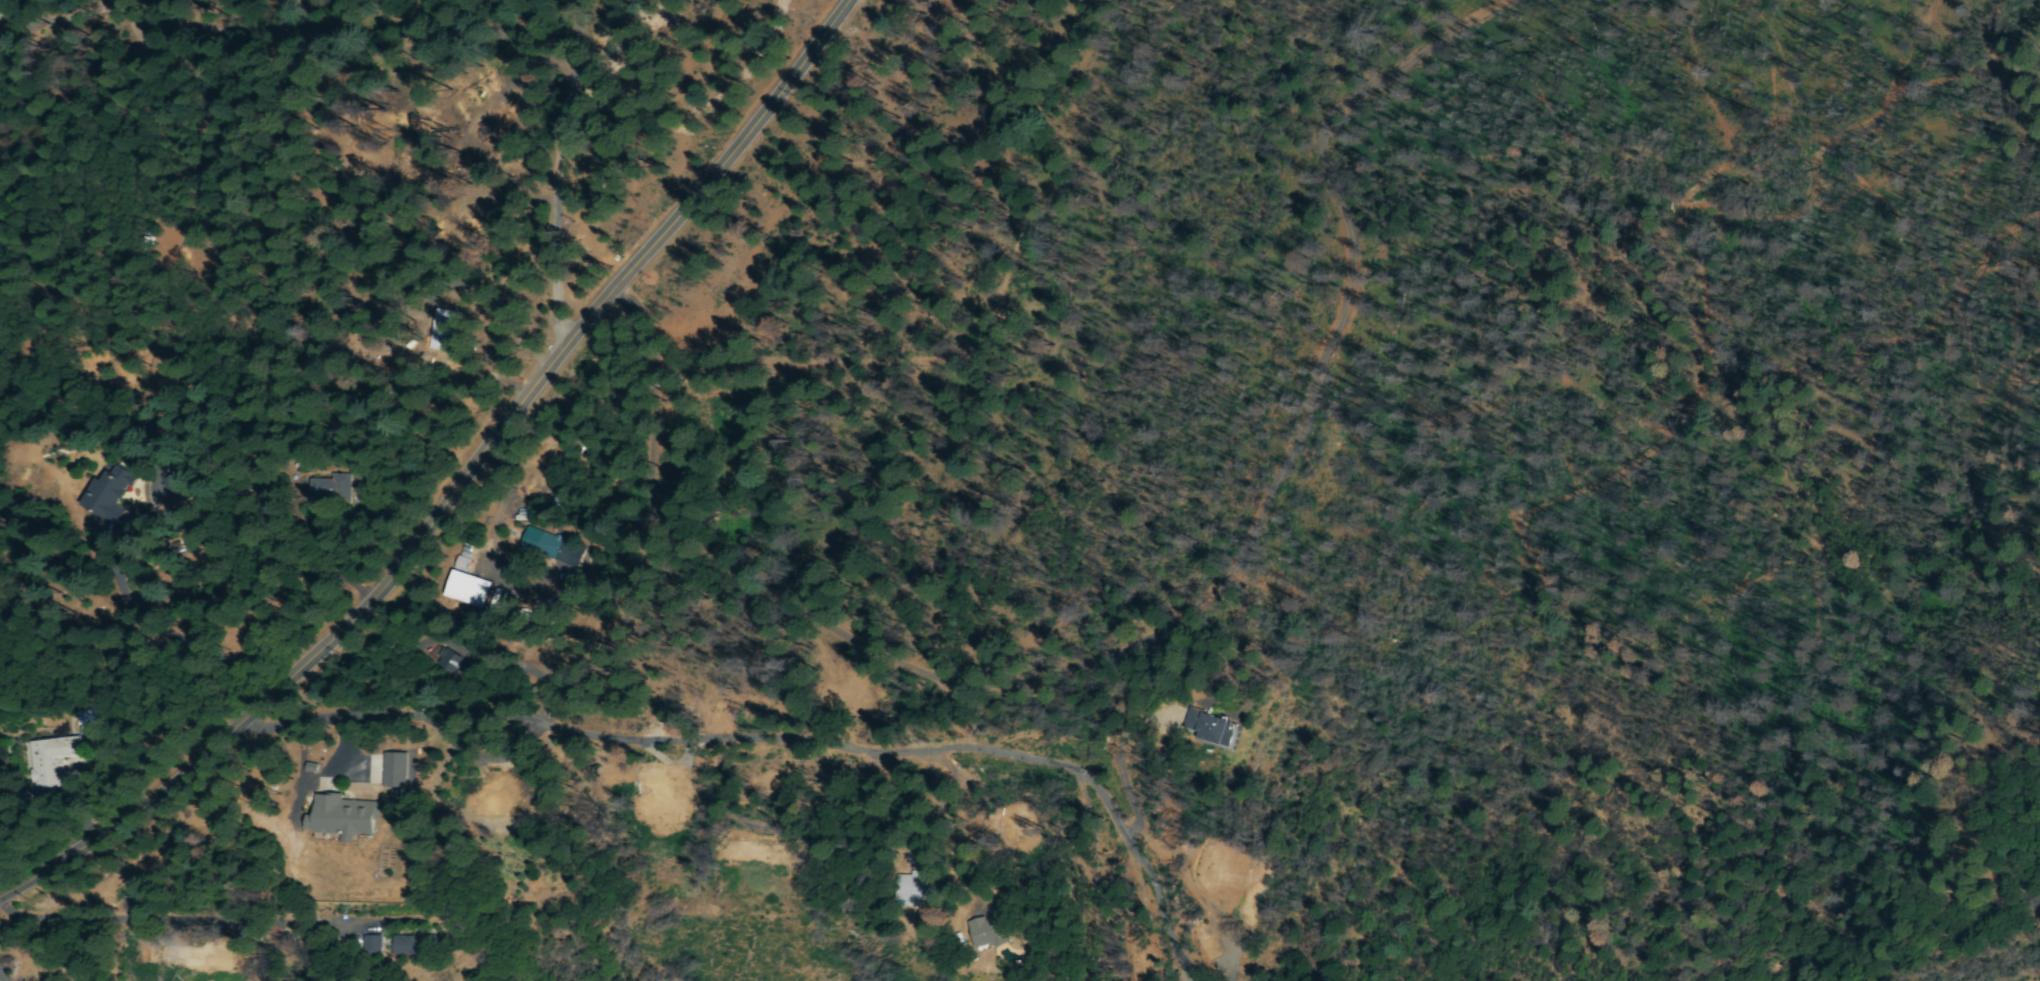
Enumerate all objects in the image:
road: (257, 86)
road: (533, 172)
road: (1150, 412)
road: (462, 486)
building: (459, 591)
building: (1205, 730)
road: (798, 734)
building: (347, 817)
building: (984, 932)
road: (35, 943)
building: (373, 946)
building: (413, 947)

